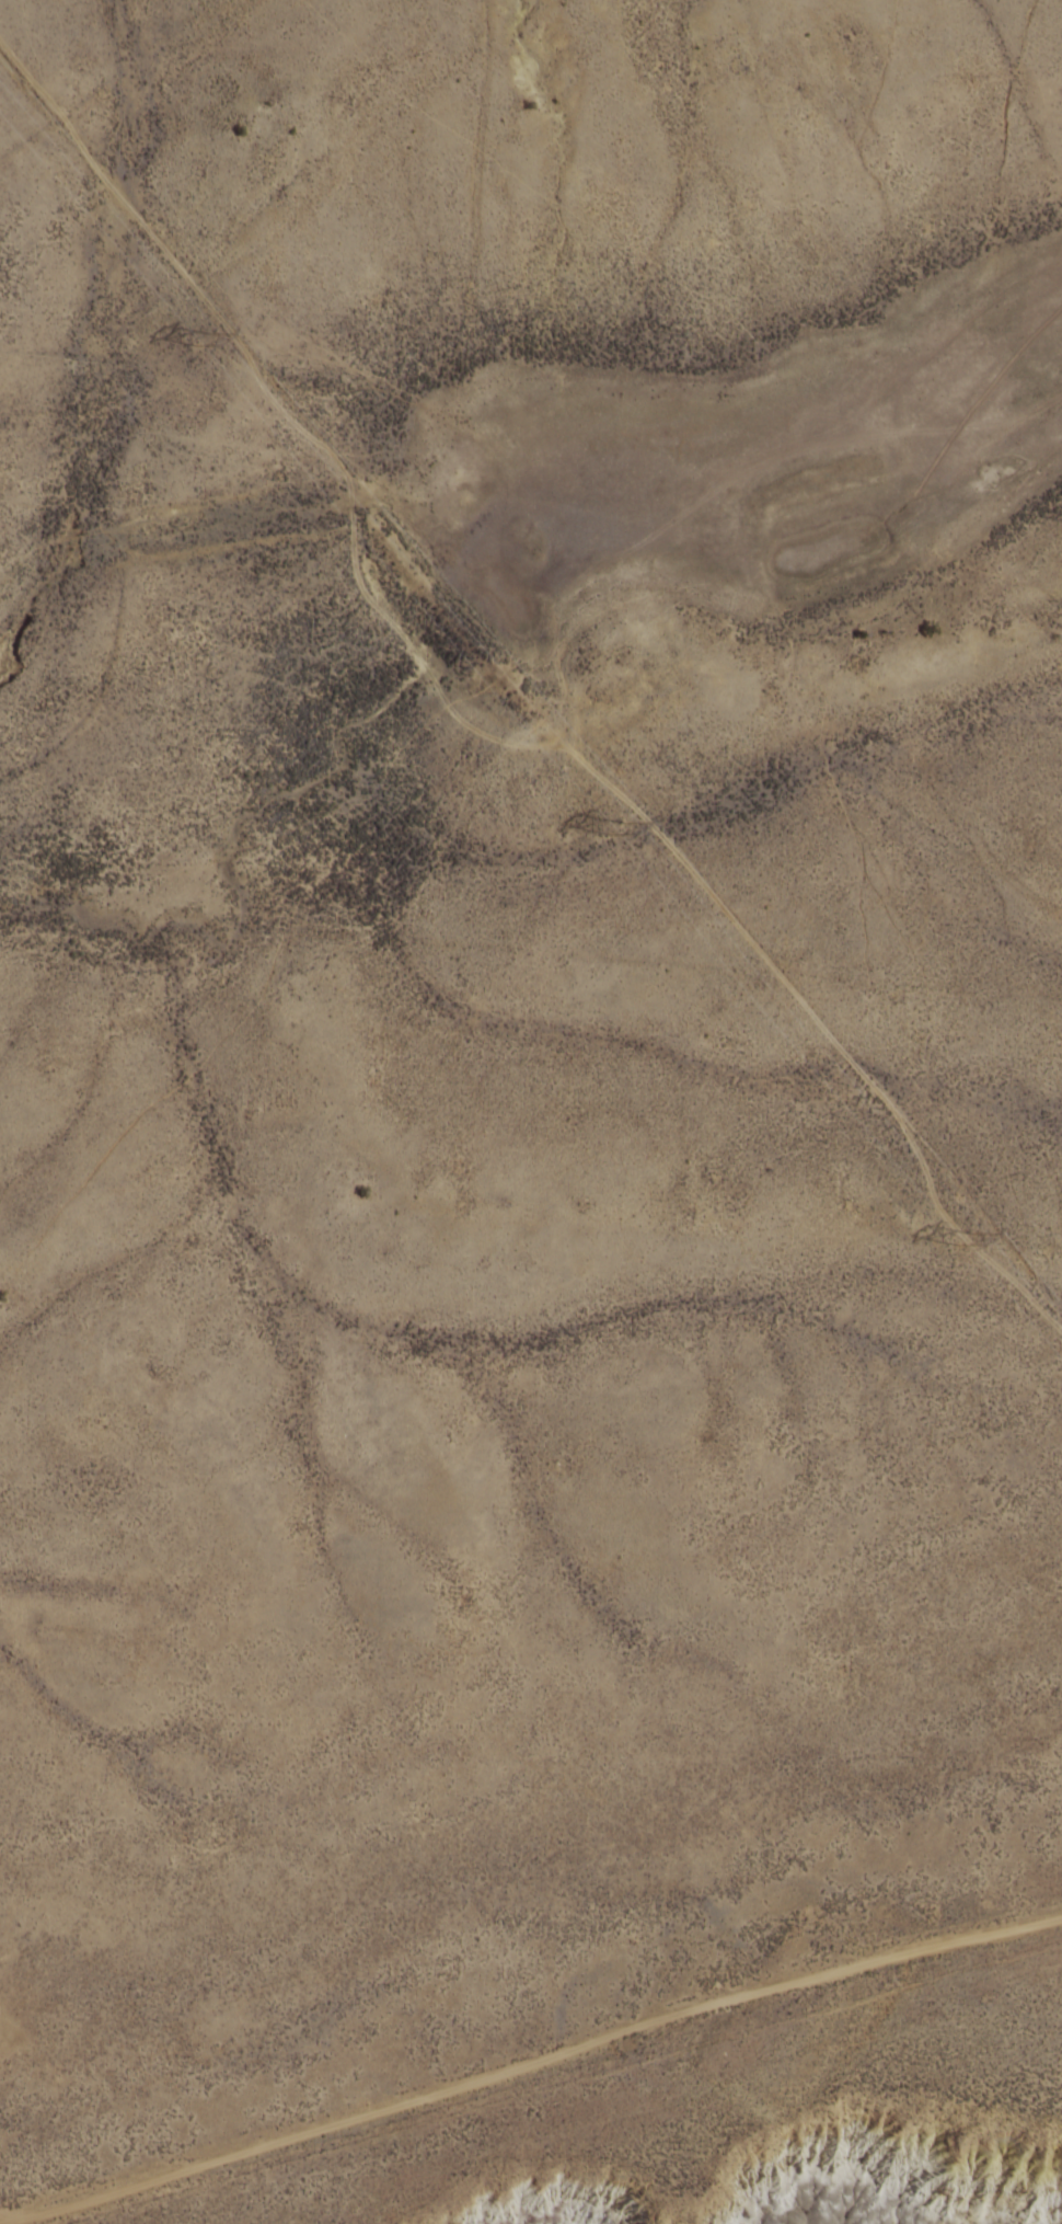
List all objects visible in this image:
power tower: (196, 342)
river: (488, 580)
power tower: (610, 829)
power tower: (958, 1240)
road: (531, 2036)

